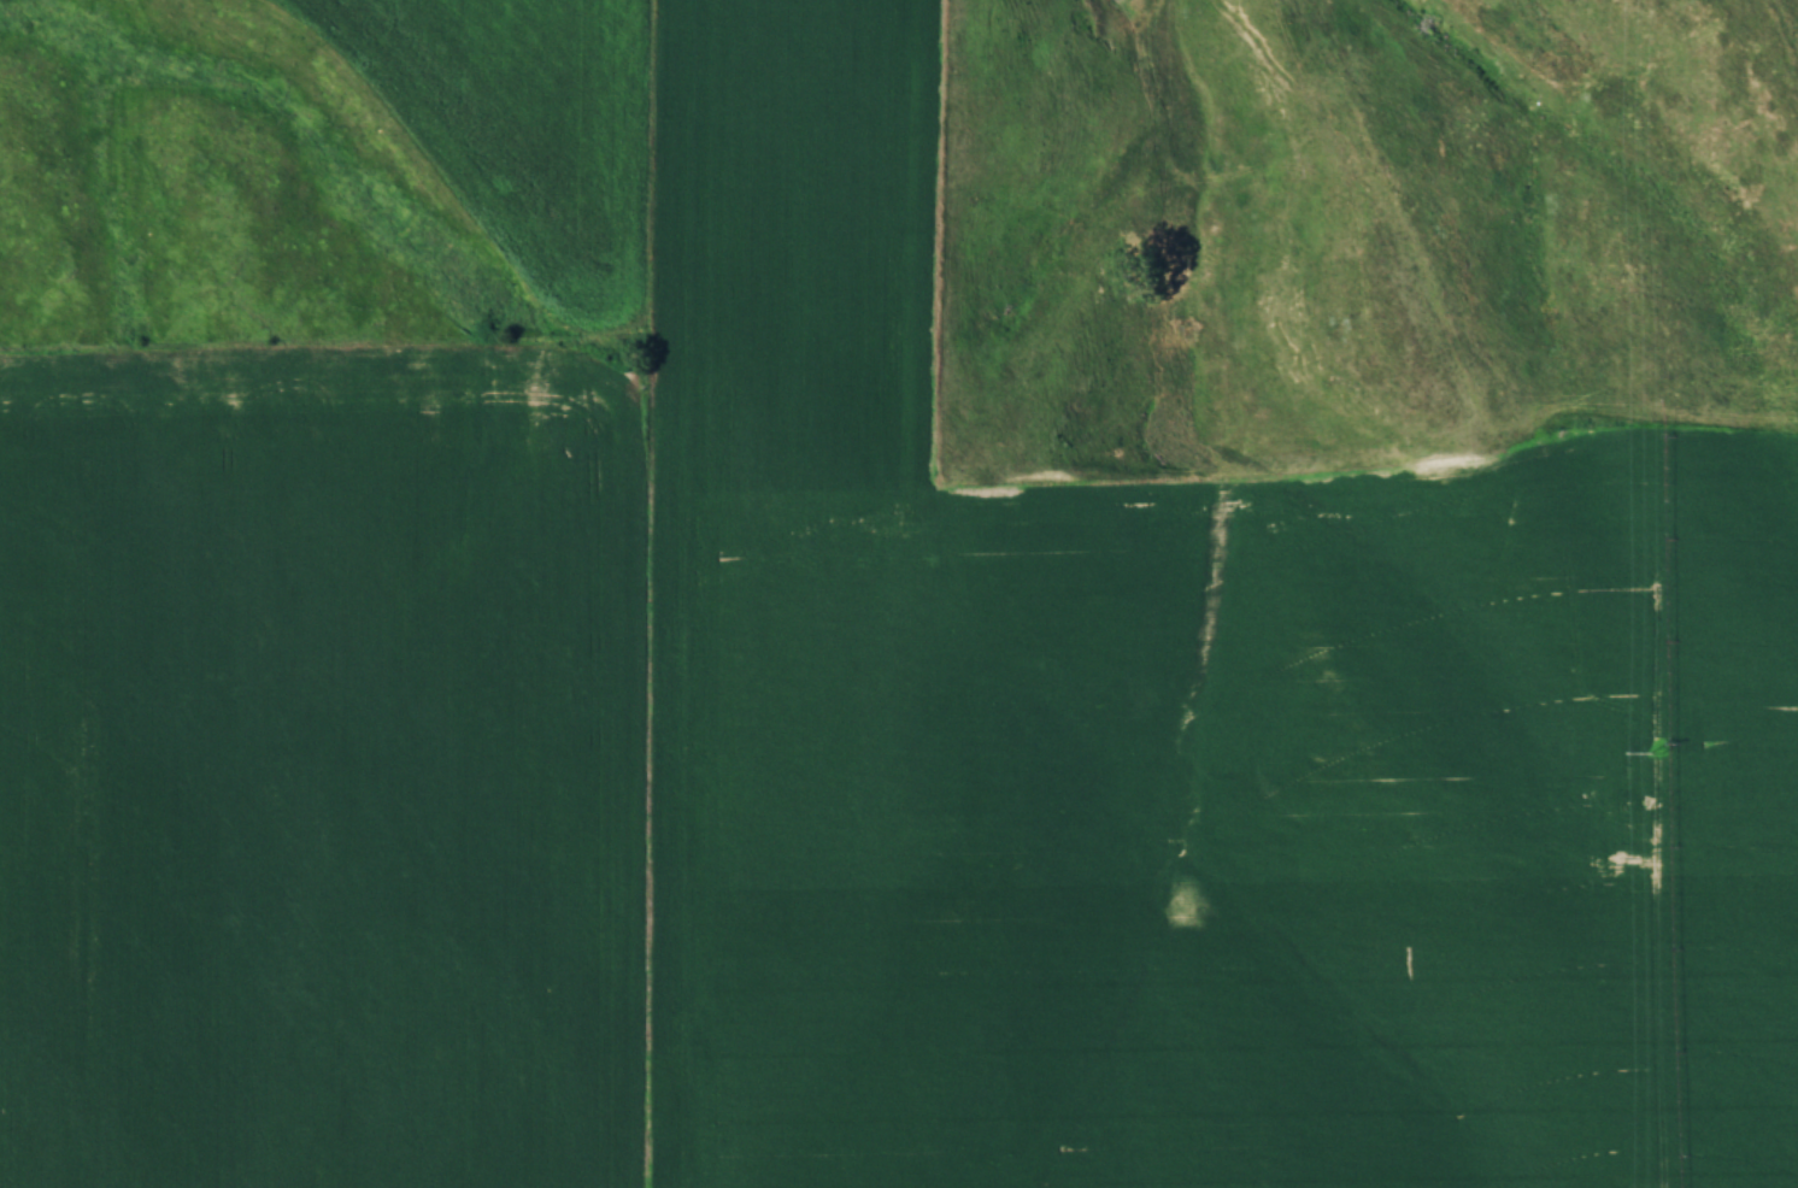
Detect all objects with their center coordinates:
power tower: (1656, 753)

